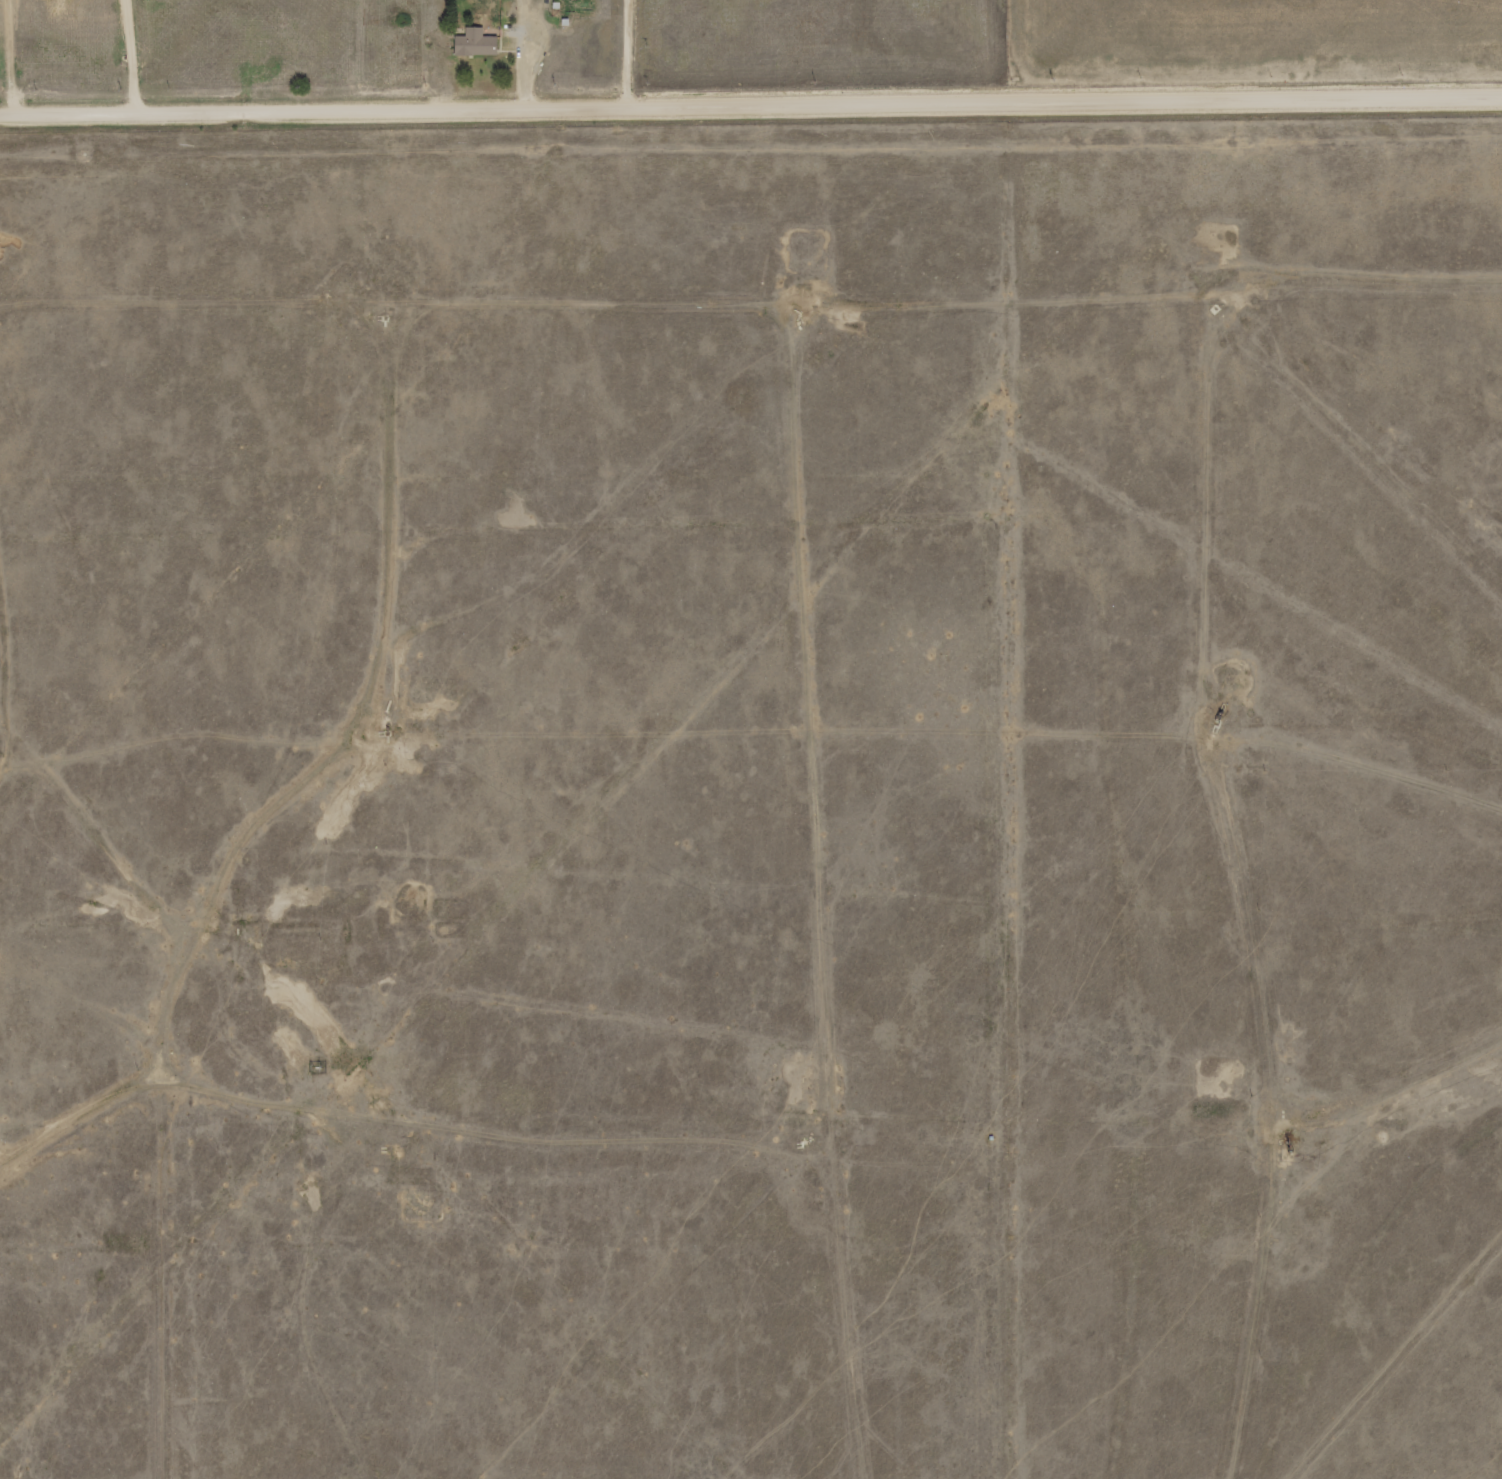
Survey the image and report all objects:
building: (475, 42)
road: (750, 103)

